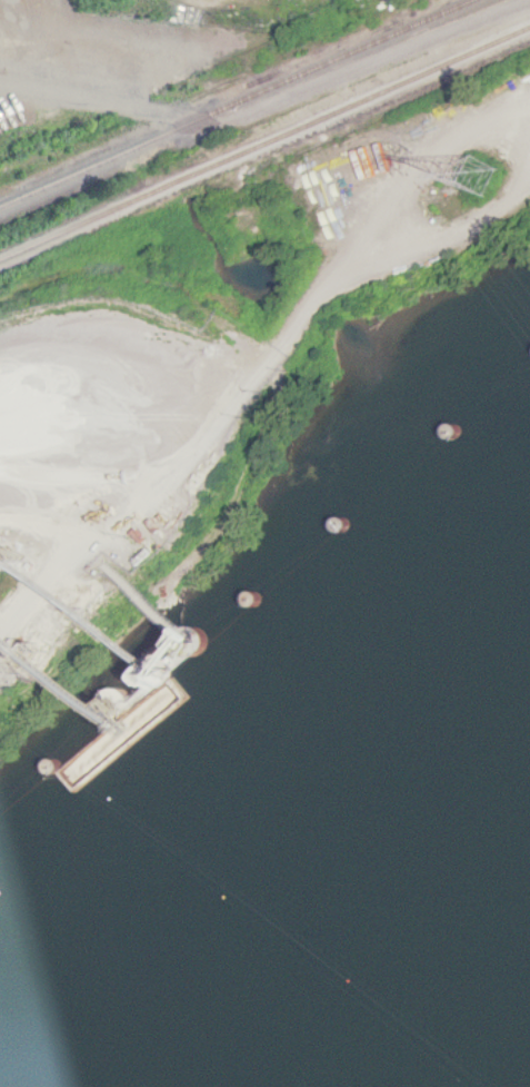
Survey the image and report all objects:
railway: (220, 93)
road: (269, 107)
railway: (264, 135)
power tower: (476, 168)
road: (266, 360)
power plant: (141, 407)
river: (417, 1002)

